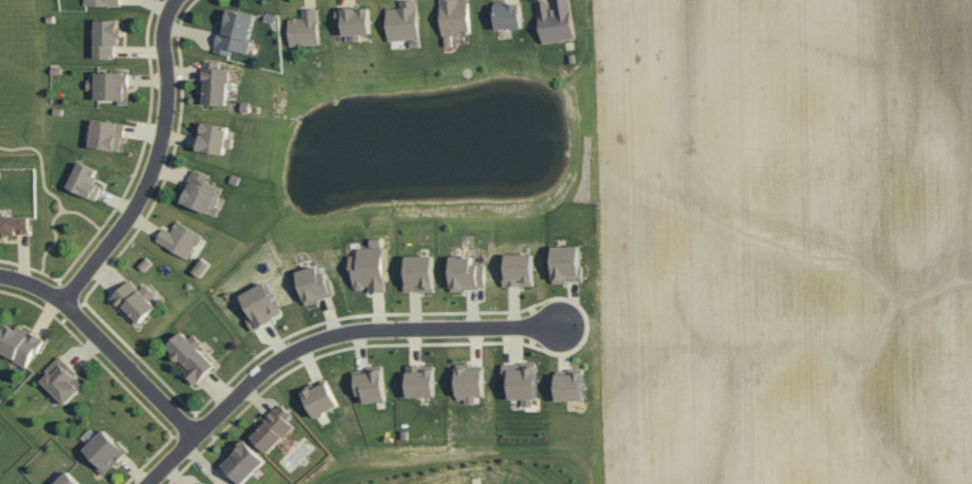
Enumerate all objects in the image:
building: (100, 1)
building: (506, 15)
building: (452, 16)
building: (351, 19)
building: (400, 20)
building: (553, 20)
building: (302, 27)
building: (232, 31)
building: (104, 37)
road: (137, 50)
park: (17, 78)
building: (110, 84)
building: (214, 85)
road: (149, 106)
road: (140, 133)
building: (104, 134)
building: (210, 136)
road: (151, 162)
road: (169, 163)
building: (82, 180)
building: (199, 192)
road: (53, 195)
road: (112, 200)
road: (81, 215)
road: (107, 218)
building: (12, 223)
building: (177, 237)
road: (79, 255)
building: (564, 263)
road: (20, 266)
building: (365, 268)
building: (516, 269)
building: (416, 272)
building: (463, 273)
road: (52, 278)
building: (311, 284)
road: (70, 295)
building: (133, 300)
building: (257, 304)
road: (72, 312)
road: (62, 321)
road: (400, 327)
road: (272, 338)
building: (18, 342)
road: (103, 345)
building: (188, 355)
road: (114, 378)
building: (60, 380)
building: (520, 380)
building: (418, 381)
building: (468, 384)
building: (368, 385)
building: (568, 386)
building: (318, 399)
road: (201, 428)
building: (271, 429)
building: (102, 450)
building: (241, 462)
building: (65, 479)

